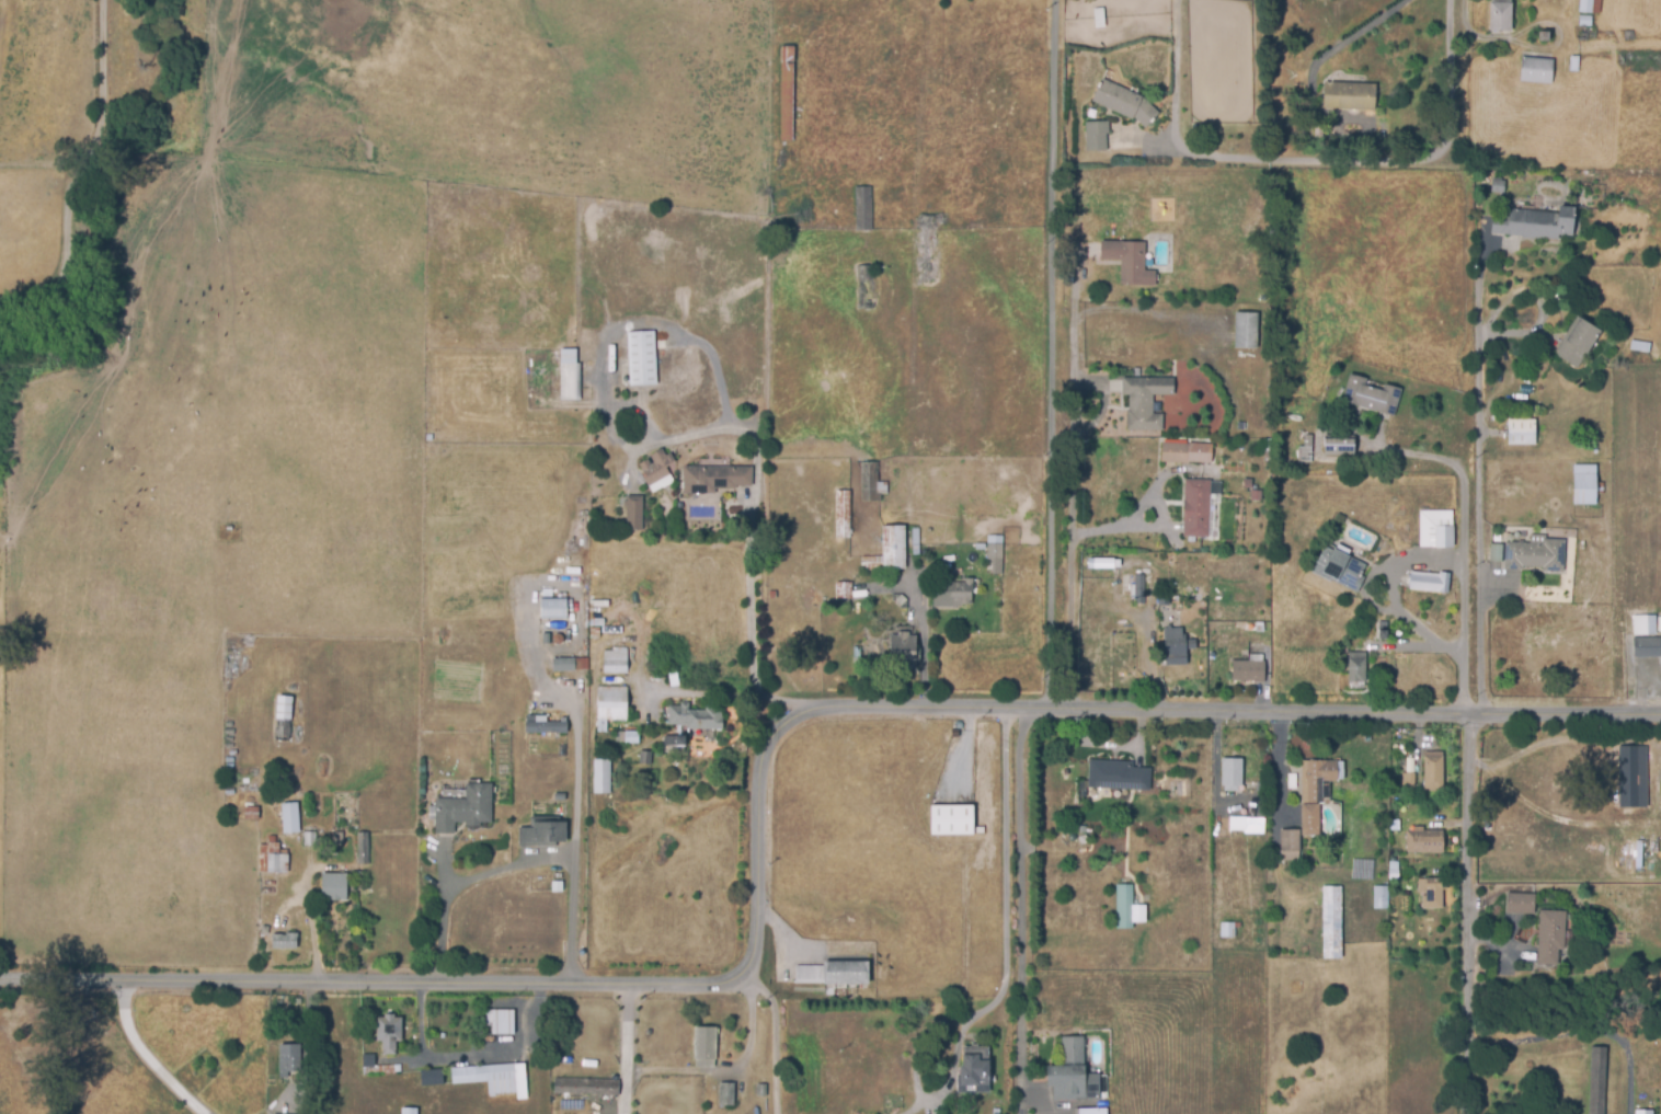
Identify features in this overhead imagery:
building: (1590, 5)
building: (1501, 16)
building: (1585, 20)
building: (1583, 34)
building: (1544, 35)
road: (1345, 41)
building: (1534, 69)
building: (1565, 69)
building: (784, 93)
building: (1350, 95)
building: (1124, 103)
building: (1096, 135)
road: (1313, 160)
road: (80, 173)
building: (862, 209)
building: (1533, 221)
building: (929, 249)
building: (1129, 262)
building: (1171, 276)
building: (864, 287)
building: (1246, 330)
building: (1577, 341)
road: (1053, 353)
building: (641, 357)
building: (569, 376)
building: (1111, 383)
building: (1371, 395)
building: (1145, 401)
building: (1521, 430)
building: (1339, 445)
building: (1185, 453)
building: (656, 470)
building: (714, 479)
building: (871, 483)
building: (1584, 483)
road: (1073, 485)
building: (1256, 495)
road: (1479, 498)
building: (1199, 506)
building: (841, 514)
road: (1134, 514)
building: (633, 515)
building: (1436, 528)
road: (749, 535)
road: (1462, 545)
building: (887, 551)
building: (1494, 552)
building: (1535, 553)
building: (995, 554)
building: (1095, 563)
building: (1340, 570)
building: (1430, 579)
building: (1138, 589)
building: (843, 593)
building: (952, 593)
road: (1393, 593)
building: (598, 604)
building: (595, 622)
building: (1640, 623)
road: (924, 631)
building: (1383, 631)
building: (614, 640)
building: (1647, 646)
building: (1172, 647)
building: (903, 648)
building: (615, 662)
building: (569, 664)
building: (1355, 670)
building: (1247, 671)
road: (683, 692)
road: (649, 704)
building: (610, 707)
building: (700, 715)
building: (282, 719)
building: (546, 726)
building: (631, 737)
building: (673, 740)
building: (644, 758)
building: (1433, 771)
building: (1230, 774)
building: (1631, 774)
building: (600, 776)
building: (1118, 776)
road: (758, 781)
building: (1406, 781)
building: (1306, 804)
building: (462, 809)
building: (249, 813)
building: (288, 818)
building: (952, 822)
building: (1248, 826)
building: (541, 832)
building: (337, 839)
building: (307, 840)
building: (1423, 841)
road: (573, 845)
building: (362, 848)
building: (275, 860)
building: (1362, 870)
building: (357, 876)
road: (463, 881)
building: (332, 886)
building: (557, 887)
building: (1431, 894)
building: (1378, 897)
building: (1522, 901)
road: (1020, 903)
building: (1124, 907)
road: (1470, 915)
road: (1009, 920)
building: (1331, 924)
building: (1226, 930)
building: (1553, 935)
building: (283, 941)
building: (833, 974)
building: (499, 1022)
building: (388, 1033)
road: (775, 1036)
road: (1566, 1042)
building: (703, 1045)
road: (626, 1049)
road: (144, 1056)
building: (290, 1059)
road: (731, 1067)
building: (375, 1068)
building: (974, 1071)
building: (1072, 1075)
road: (1629, 1077)
building: (429, 1078)
building: (493, 1078)
building: (1597, 1079)
building: (585, 1089)
building: (761, 1091)
building: (725, 1094)
building: (1509, 1104)
building: (408, 1111)
building: (1092, 1112)
building: (1642, 1112)

